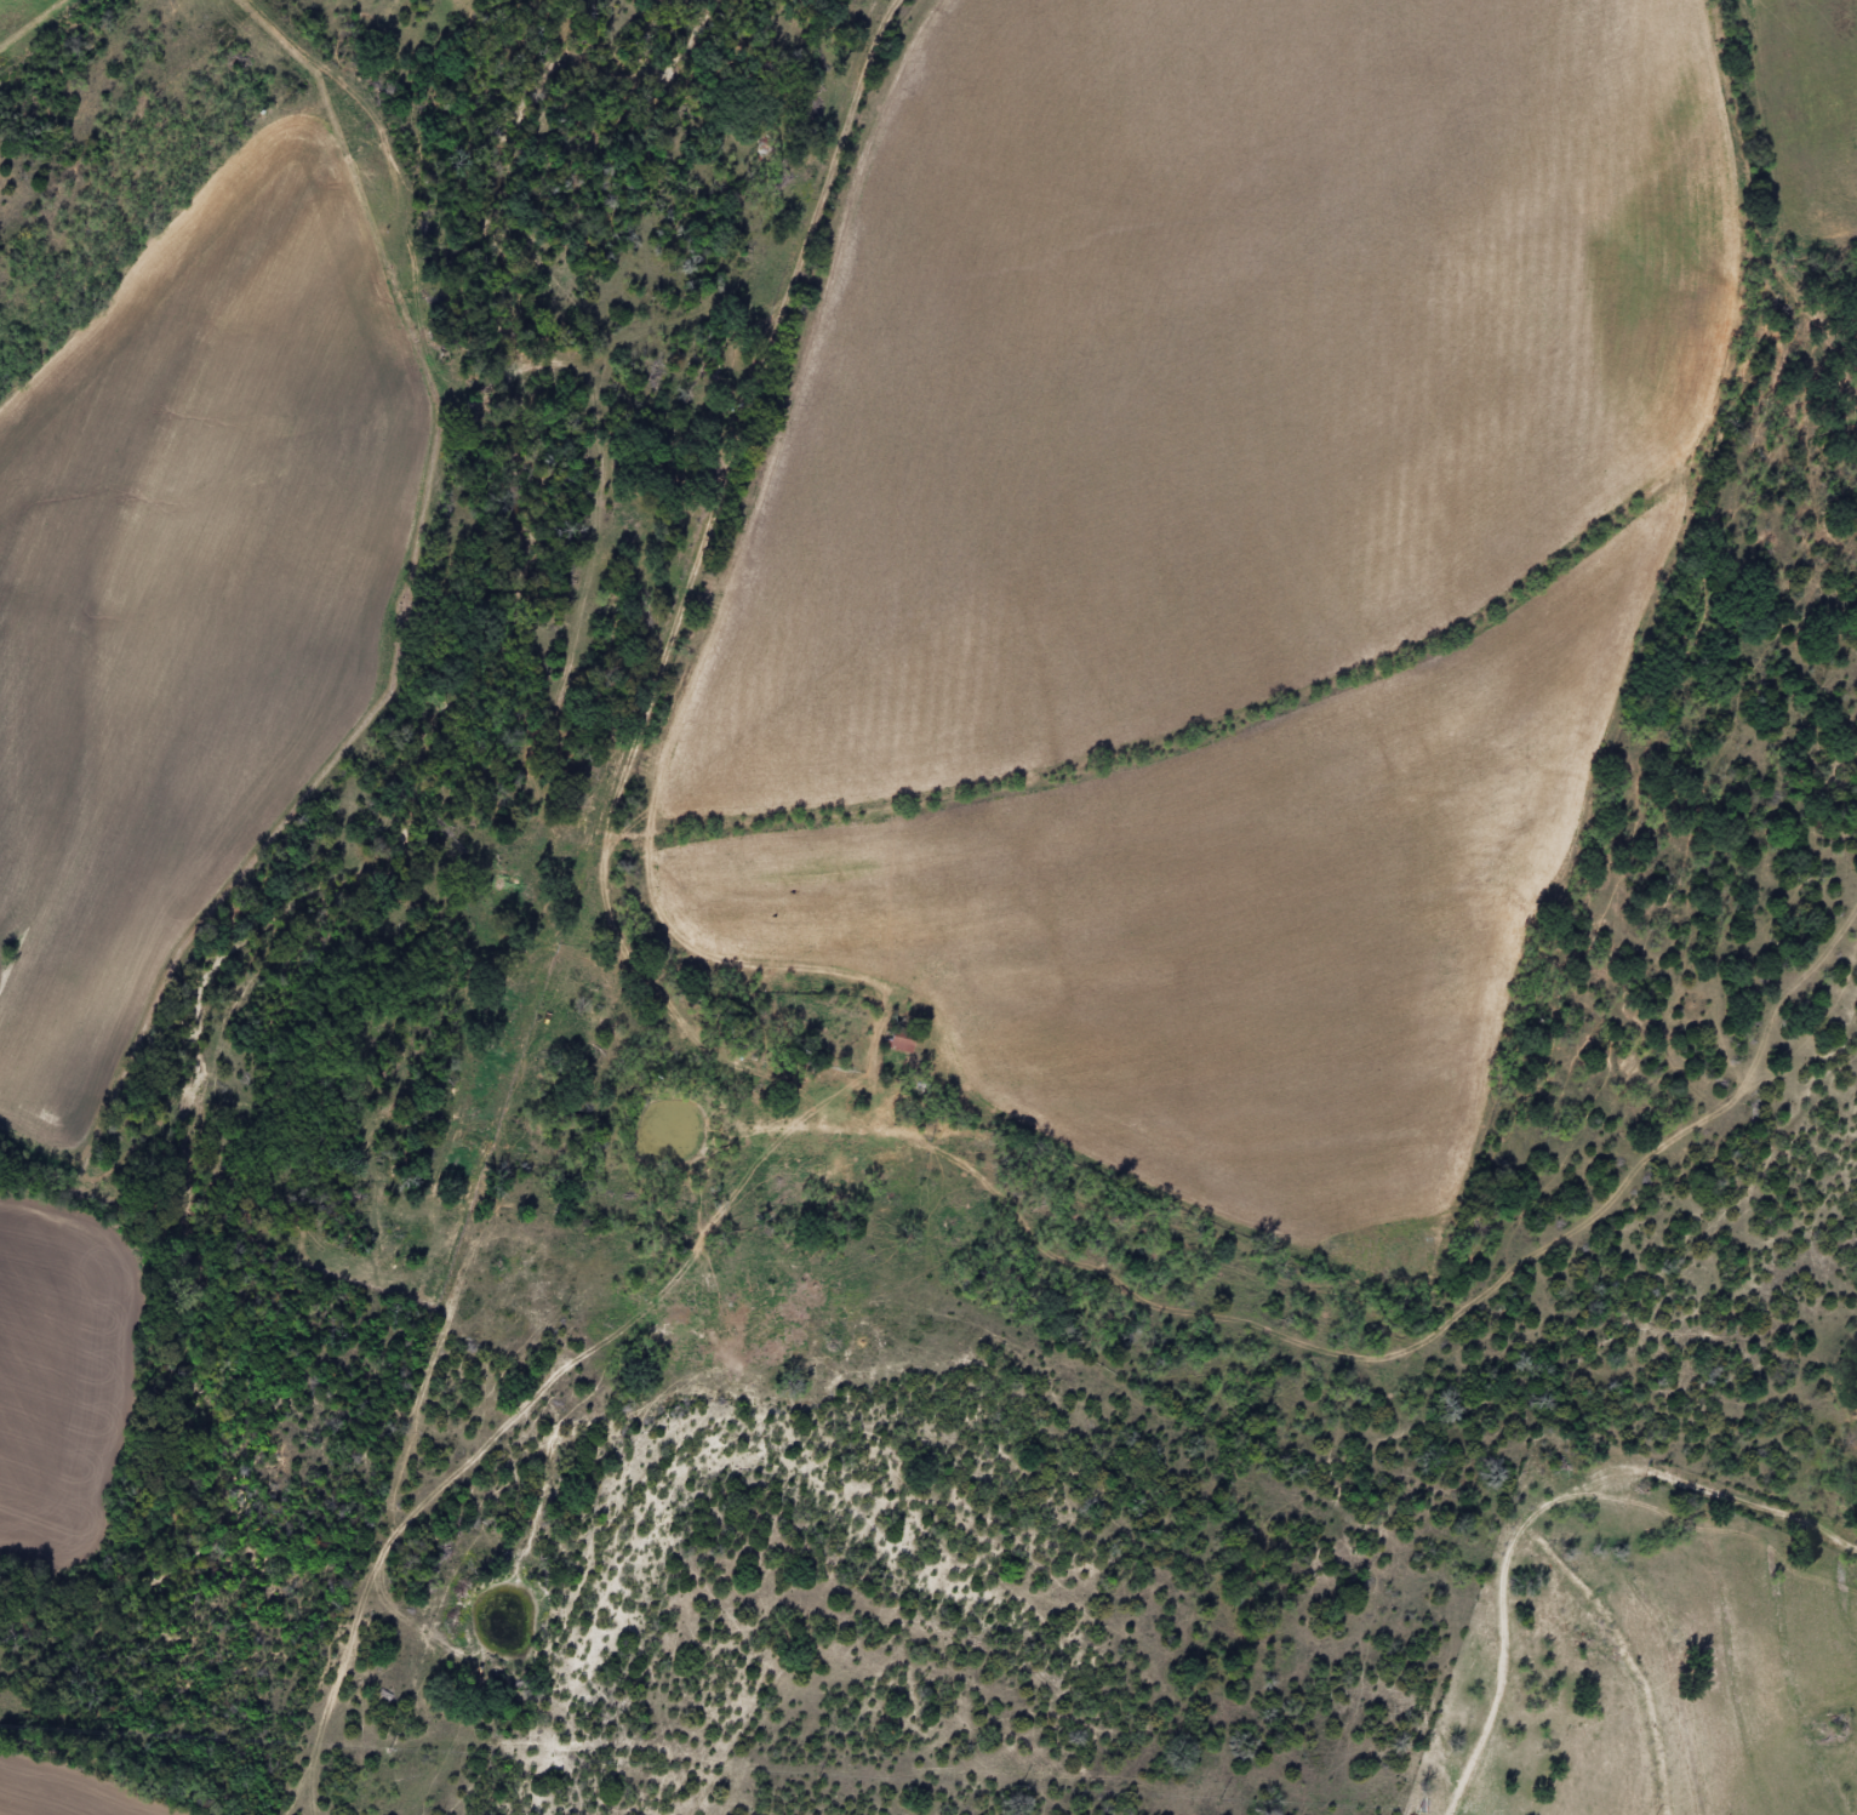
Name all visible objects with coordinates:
road: (730, 536)

